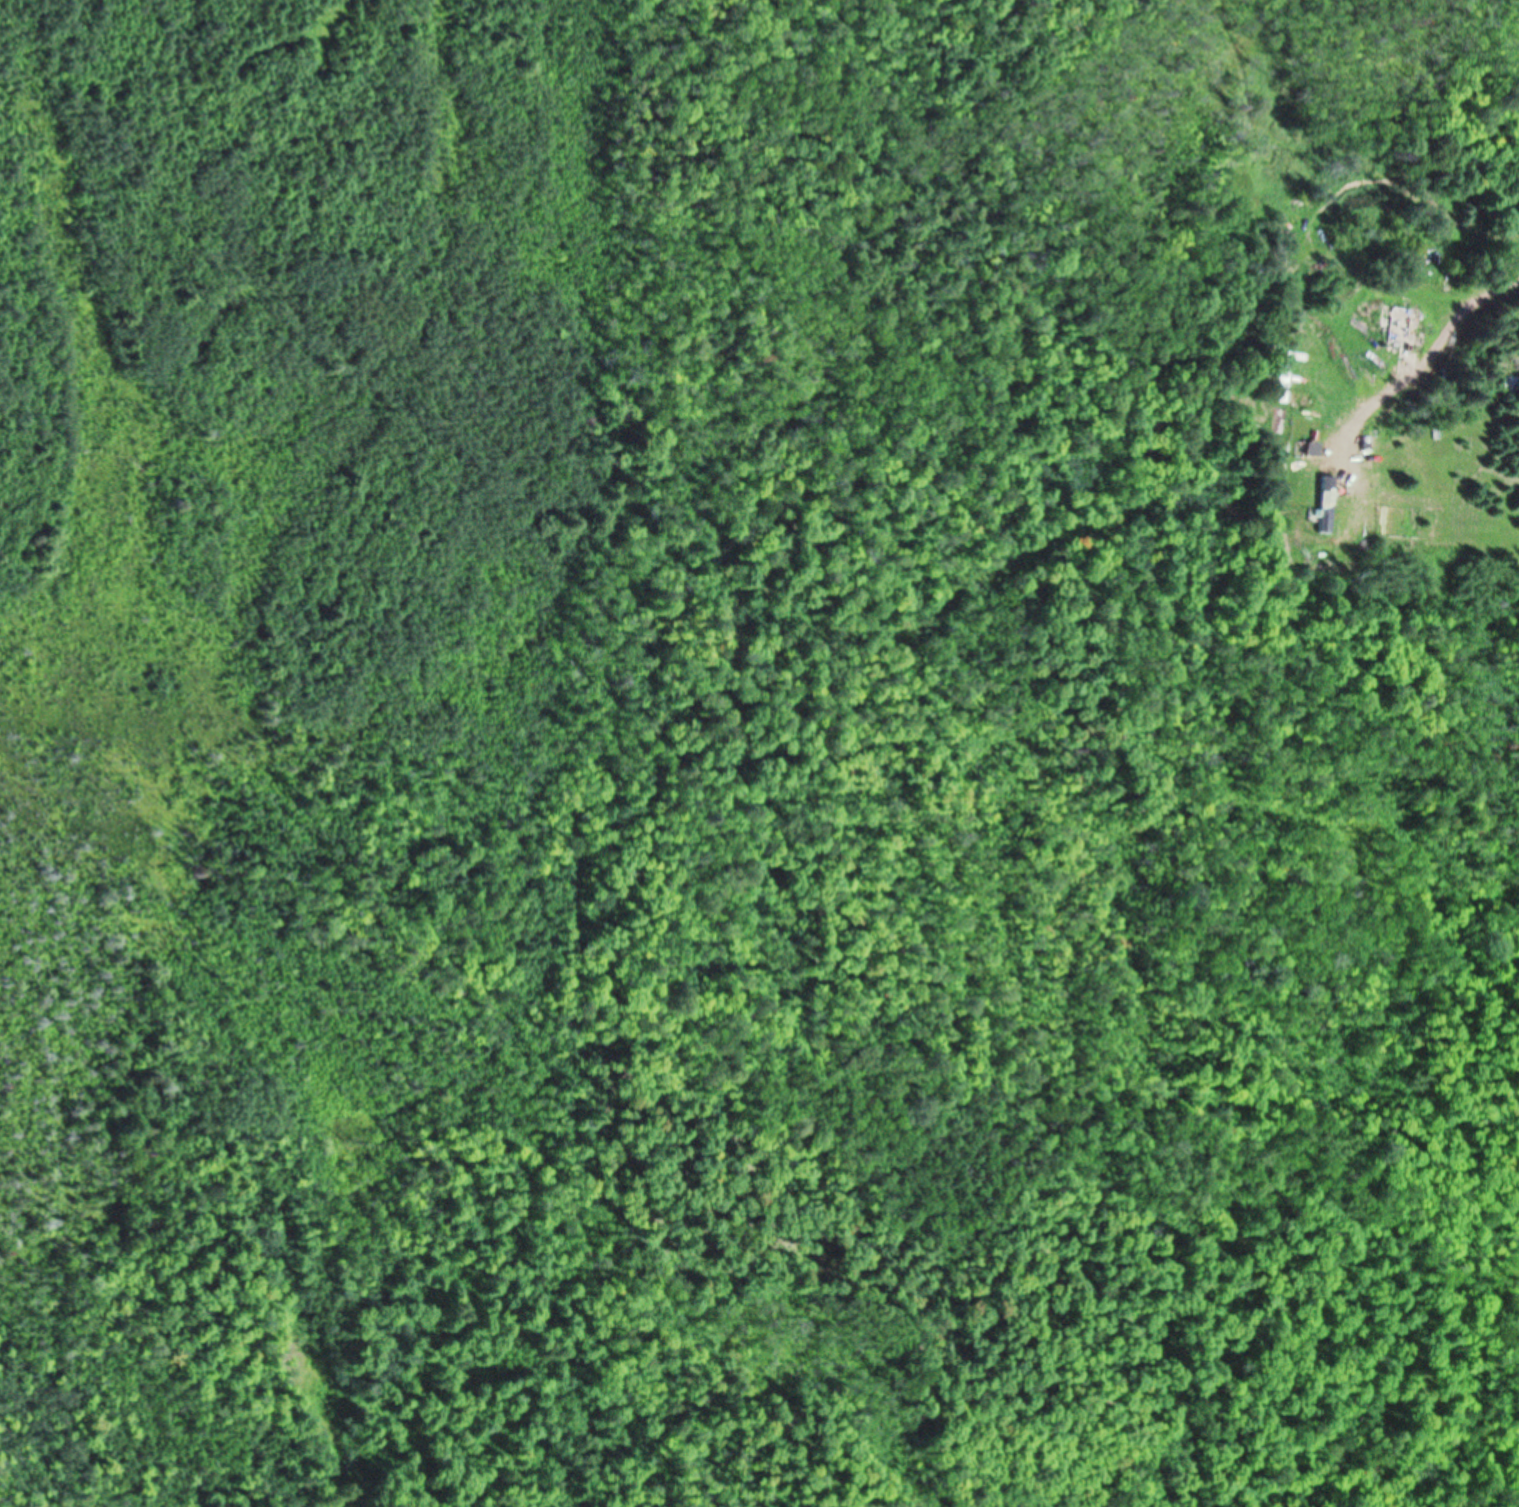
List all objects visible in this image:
building: (1399, 328)
building: (1512, 387)

